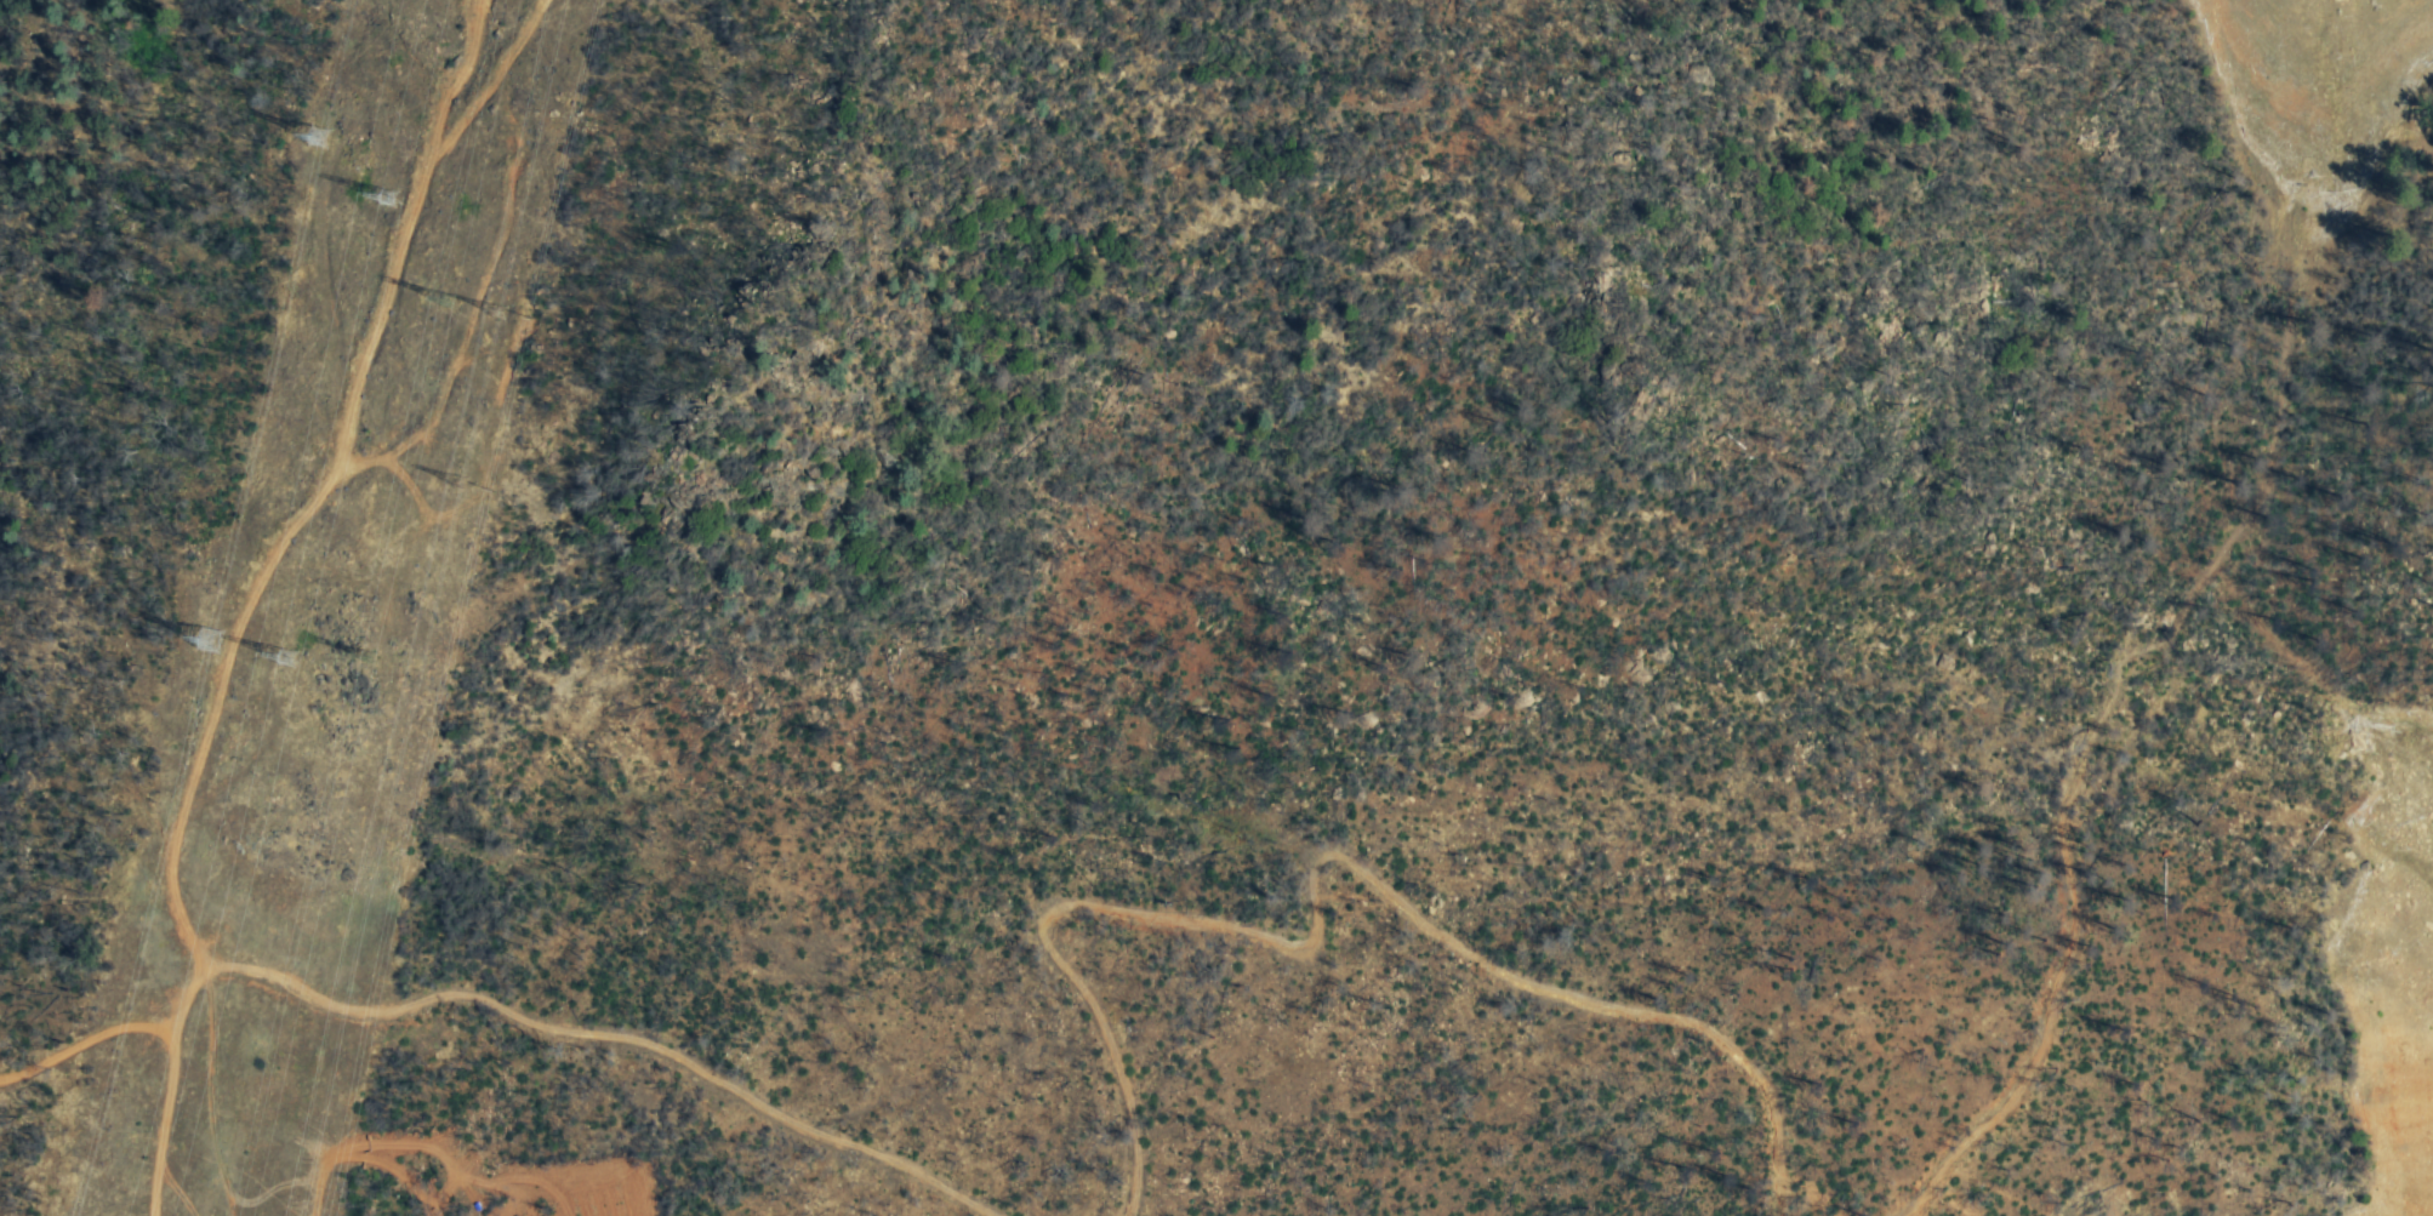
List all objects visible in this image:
power tower: (315, 137)
power tower: (414, 193)
power tower: (460, 285)
power tower: (514, 310)
power tower: (480, 475)
power tower: (209, 641)
power tower: (310, 652)
power tower: (392, 656)
road: (2118, 754)
road: (1281, 921)
road: (494, 1027)
road: (1811, 1107)

